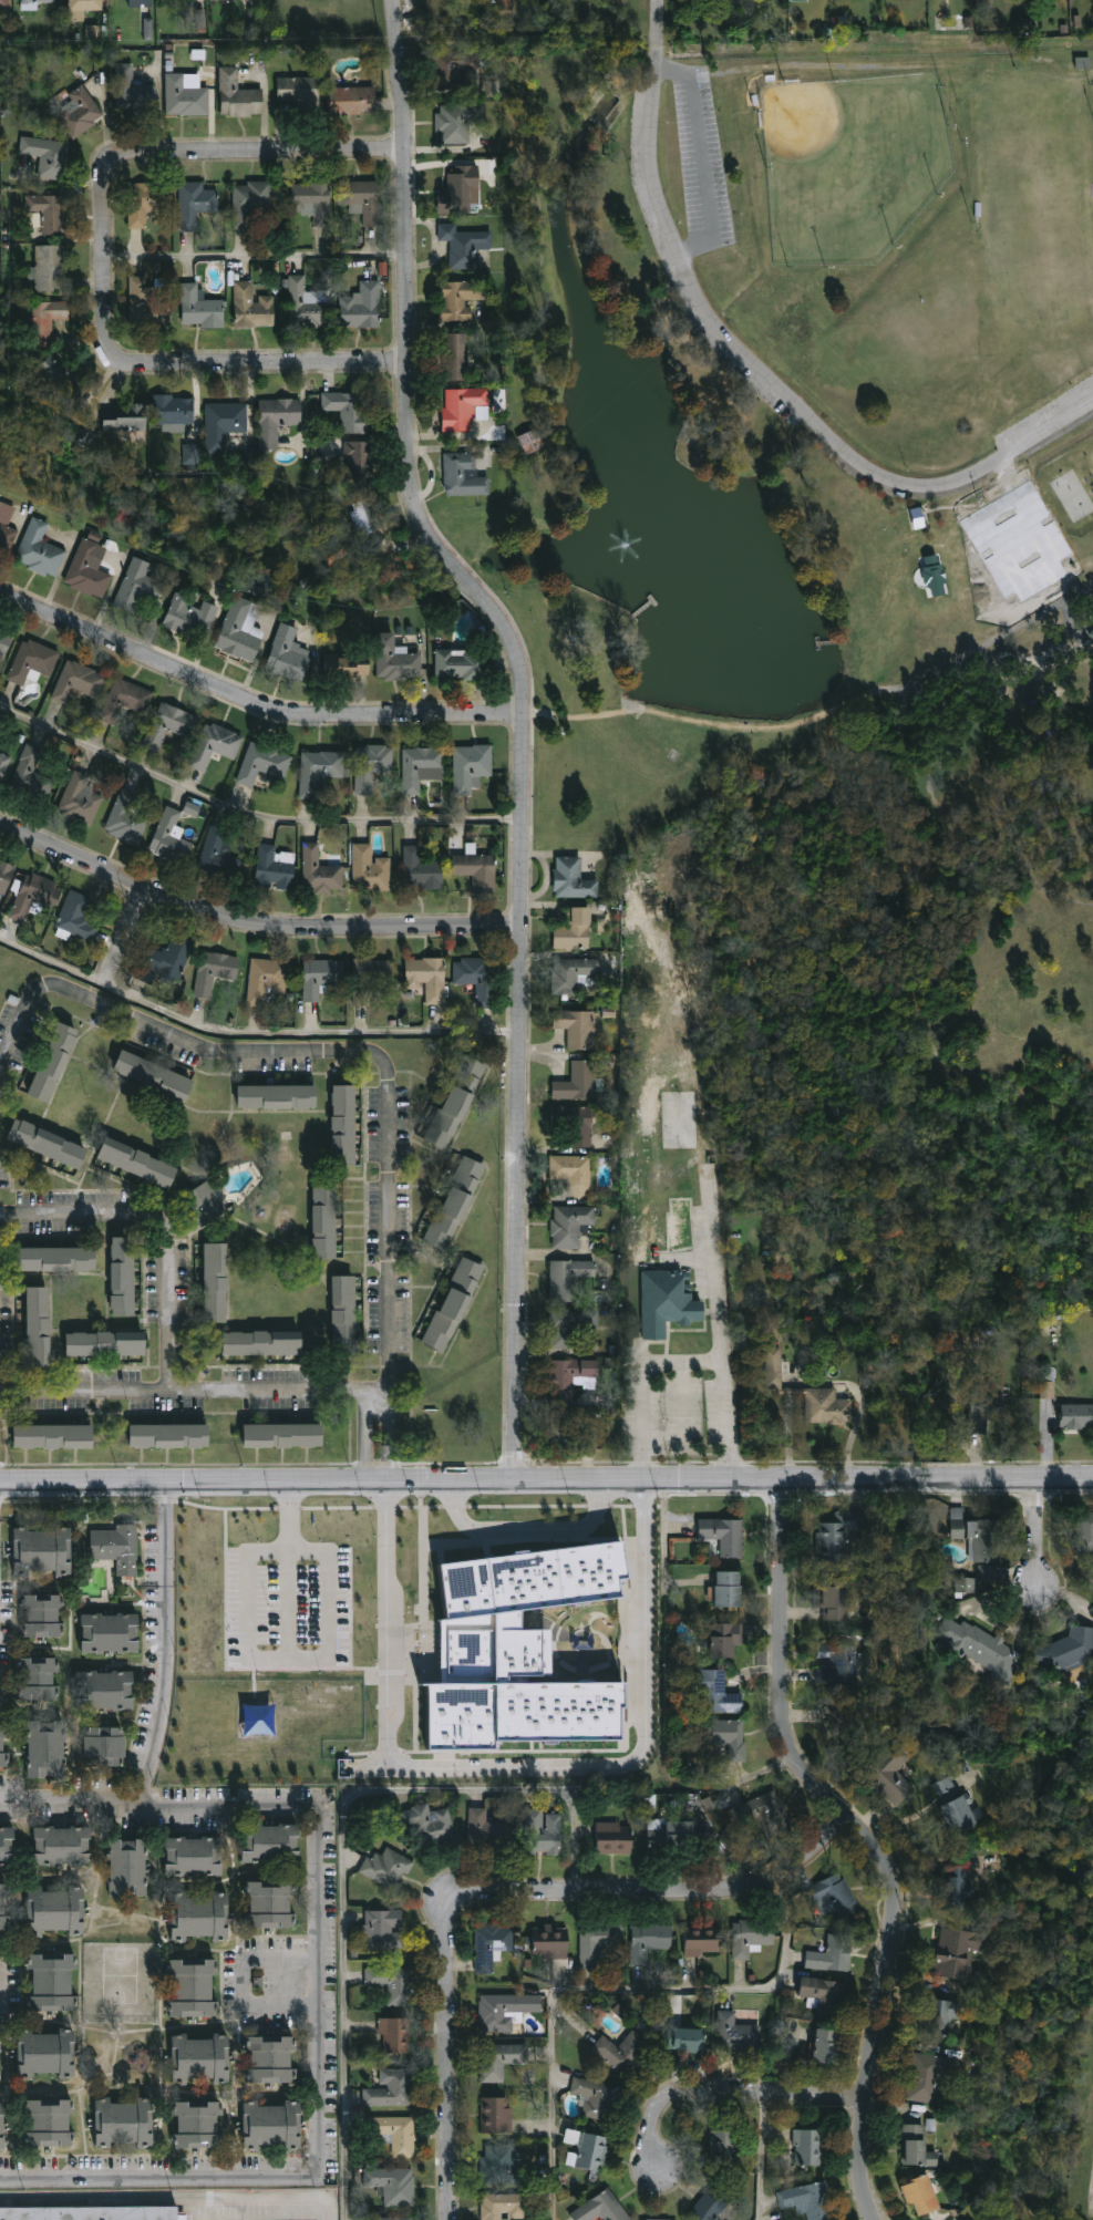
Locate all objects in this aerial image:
building: (801, 0)
building: (38, 1)
building: (4, 3)
building: (141, 3)
building: (502, 4)
building: (85, 6)
building: (452, 68)
building: (124, 85)
building: (298, 91)
building: (236, 95)
building: (184, 96)
building: (350, 101)
building: (80, 111)
building: (452, 125)
building: (45, 155)
road: (703, 158)
park: (852, 163)
parking lot: (703, 164)
building: (462, 189)
building: (361, 198)
building: (311, 200)
park: (1039, 202)
building: (194, 203)
building: (250, 204)
building: (149, 207)
building: (50, 211)
building: (461, 245)
parking lot: (664, 250)
road: (254, 255)
road: (102, 256)
building: (49, 268)
building: (144, 298)
building: (453, 299)
building: (306, 303)
building: (251, 306)
building: (361, 306)
building: (199, 309)
building: (45, 320)
building: (447, 355)
road: (757, 366)
building: (55, 380)
building: (451, 407)
building: (348, 409)
building: (172, 410)
building: (124, 415)
parking lot: (1044, 415)
building: (276, 420)
building: (223, 423)
building: (526, 443)
building: (357, 455)
building: (458, 474)
park: (1073, 497)
road: (961, 507)
parking lot: (1025, 509)
building: (364, 517)
building: (916, 518)
building: (7, 527)
building: (41, 548)
building: (89, 569)
road: (1058, 572)
building: (141, 584)
pier: (654, 600)
pier: (642, 609)
building: (192, 615)
building: (243, 628)
building: (1091, 633)
building: (6, 641)
pier: (829, 642)
pier: (817, 643)
building: (289, 651)
building: (398, 658)
building: (33, 659)
building: (462, 663)
building: (349, 664)
building: (79, 681)
park: (832, 683)
building: (126, 699)
road: (838, 706)
road: (249, 710)
building: (171, 723)
road: (522, 724)
building: (215, 743)
building: (264, 762)
building: (3, 765)
building: (372, 765)
building: (423, 765)
building: (471, 765)
building: (35, 770)
building: (322, 770)
building: (83, 797)
building: (192, 808)
road: (251, 812)
building: (127, 817)
building: (172, 836)
building: (219, 854)
building: (275, 866)
building: (371, 868)
building: (423, 868)
building: (477, 868)
building: (321, 869)
building: (6, 874)
building: (569, 878)
building: (34, 902)
building: (79, 916)
road: (252, 928)
building: (570, 929)
road: (126, 935)
building: (169, 956)
road: (54, 961)
building: (214, 969)
building: (570, 972)
building: (319, 974)
building: (429, 975)
building: (476, 975)
building: (370, 978)
building: (266, 979)
building: (573, 1025)
road: (308, 1032)
road: (157, 1037)
building: (53, 1062)
building: (152, 1074)
building: (574, 1082)
building: (276, 1096)
building: (454, 1102)
building: (342, 1123)
building: (574, 1124)
building: (47, 1143)
building: (136, 1161)
building: (570, 1171)
building: (454, 1202)
building: (202, 1204)
road: (172, 1208)
building: (323, 1218)
building: (568, 1223)
building: (55, 1259)
road: (716, 1266)
building: (123, 1276)
building: (567, 1278)
building: (215, 1282)
building: (667, 1302)
building: (453, 1304)
building: (342, 1314)
building: (569, 1324)
building: (38, 1325)
building: (967, 1336)
building: (262, 1342)
building: (105, 1343)
road: (687, 1362)
building: (773, 1367)
building: (569, 1376)
road: (351, 1382)
building: (1046, 1390)
building: (827, 1406)
building: (984, 1413)
building: (1076, 1415)
road: (389, 1432)
building: (568, 1432)
building: (281, 1434)
building: (168, 1435)
building: (53, 1436)
road: (546, 1481)
road: (527, 1528)
road: (1045, 1528)
building: (1084, 1532)
road: (167, 1534)
building: (722, 1535)
building: (977, 1536)
building: (829, 1541)
building: (115, 1547)
building: (42, 1551)
building: (988, 1573)
building: (965, 1584)
building: (725, 1590)
road: (330, 1603)
building: (831, 1603)
building: (42, 1615)
building: (110, 1633)
building: (724, 1642)
building: (979, 1646)
building: (1065, 1650)
building: (516, 1651)
building: (834, 1665)
building: (39, 1680)
building: (103, 1690)
building: (714, 1695)
road: (165, 1700)
building: (842, 1723)
building: (726, 1738)
building: (3, 1745)
building: (104, 1746)
building: (45, 1749)
road: (516, 1766)
building: (883, 1773)
building: (951, 1813)
building: (764, 1814)
building: (423, 1825)
building: (486, 1830)
building: (542, 1832)
building: (664, 1835)
road: (324, 1837)
building: (610, 1838)
road: (873, 1841)
building: (271, 1844)
building: (8, 1846)
building: (63, 1846)
building: (194, 1856)
building: (128, 1867)
building: (385, 1867)
building: (956, 1887)
road: (506, 1892)
building: (825, 1897)
road: (343, 1901)
building: (271, 1904)
building: (3, 1907)
building: (56, 1910)
building: (200, 1917)
building: (381, 1929)
building: (745, 1937)
building: (647, 1941)
building: (550, 1942)
building: (700, 1942)
building: (489, 1944)
building: (599, 1948)
building: (951, 1952)
building: (825, 1953)
road: (244, 1981)
building: (53, 1982)
building: (390, 1983)
building: (193, 1987)
building: (815, 1993)
road: (620, 1996)
building: (499, 2011)
building: (935, 2016)
building: (733, 2034)
building: (393, 2035)
building: (689, 2041)
building: (818, 2047)
building: (619, 2051)
building: (45, 2054)
building: (199, 2058)
building: (271, 2059)
building: (498, 2059)
building: (921, 2075)
building: (390, 2088)
building: (595, 2098)
road: (736, 2103)
building: (495, 2116)
building: (49, 2123)
building: (124, 2124)
building: (198, 2125)
building: (272, 2126)
building: (2, 2127)
building: (394, 2134)
building: (909, 2146)
building: (804, 2147)
building: (721, 2148)
building: (587, 2150)
road: (771, 2162)
building: (502, 2166)
road: (162, 2183)
building: (391, 2185)
building: (911, 2193)
road: (176, 2196)
building: (806, 2200)
building: (710, 2203)
building: (503, 2207)
building: (599, 2208)
building: (90, 2211)
building: (393, 2218)
building: (651, 2219)

